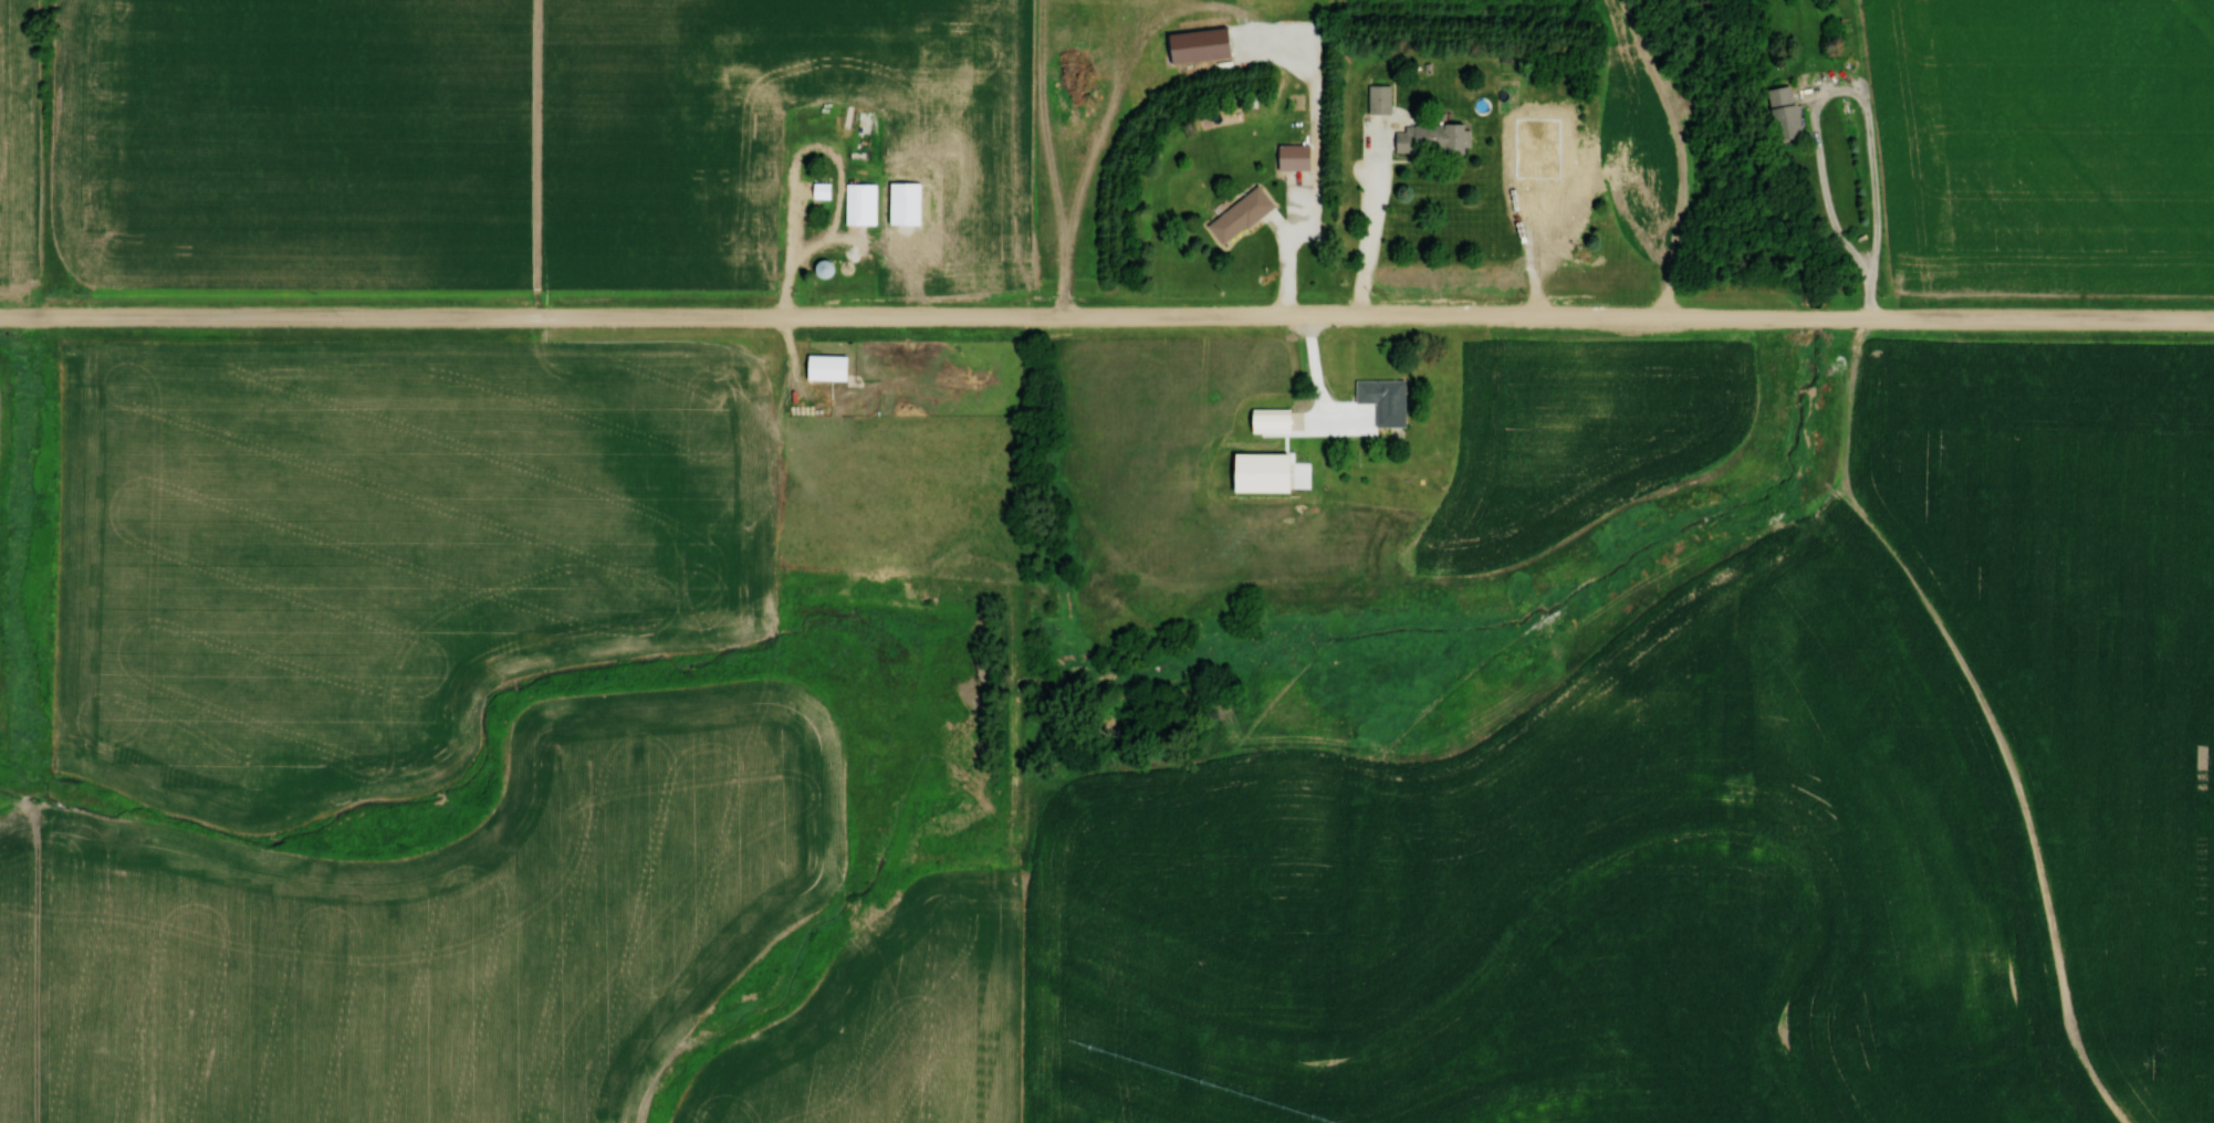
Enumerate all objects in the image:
building: (812, 62)
building: (1381, 98)
building: (888, 109)
building: (1787, 114)
building: (1545, 132)
building: (1433, 138)
building: (1298, 156)
road: (1874, 174)
building: (824, 190)
building: (755, 193)
building: (864, 203)
building: (1243, 214)
road: (1371, 229)
road: (1529, 242)
road: (795, 244)
road: (1289, 252)
road: (1107, 319)
building: (829, 367)
road: (1324, 381)
building: (1387, 400)
building: (1275, 420)

